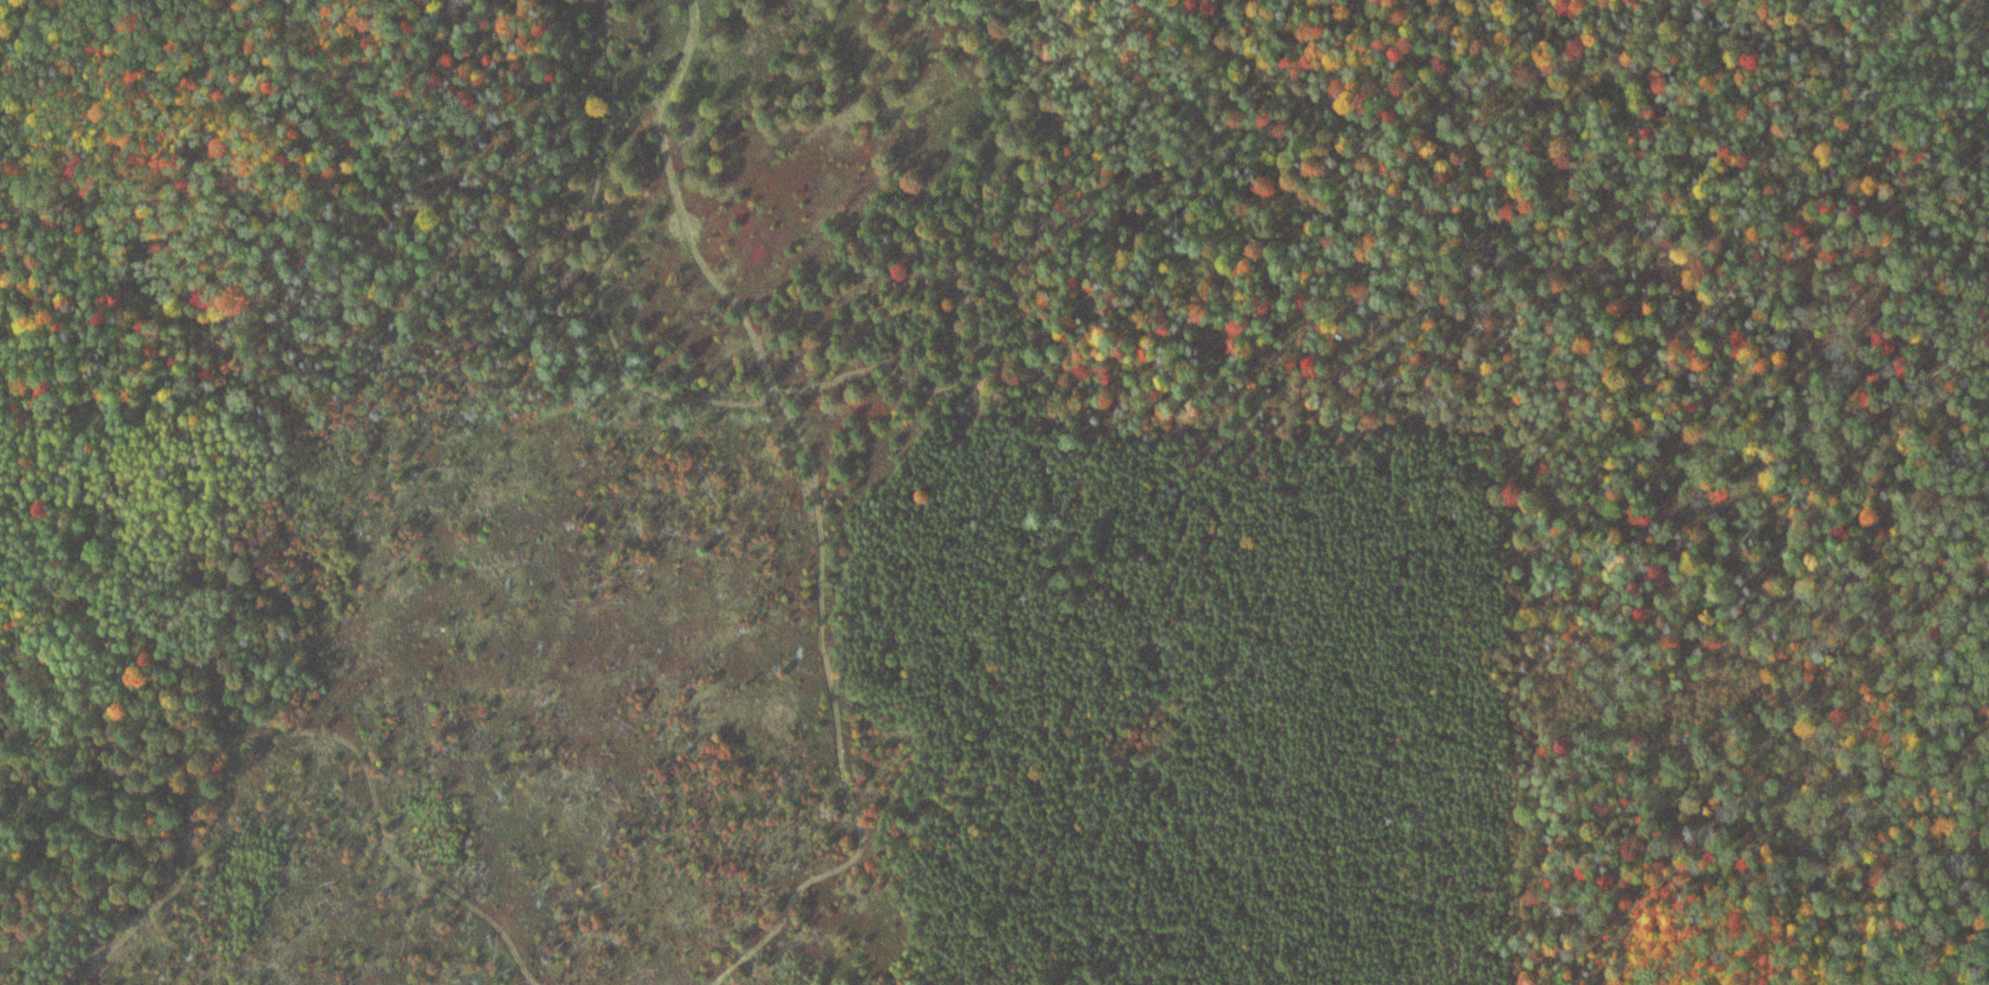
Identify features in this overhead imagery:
road: (812, 501)

